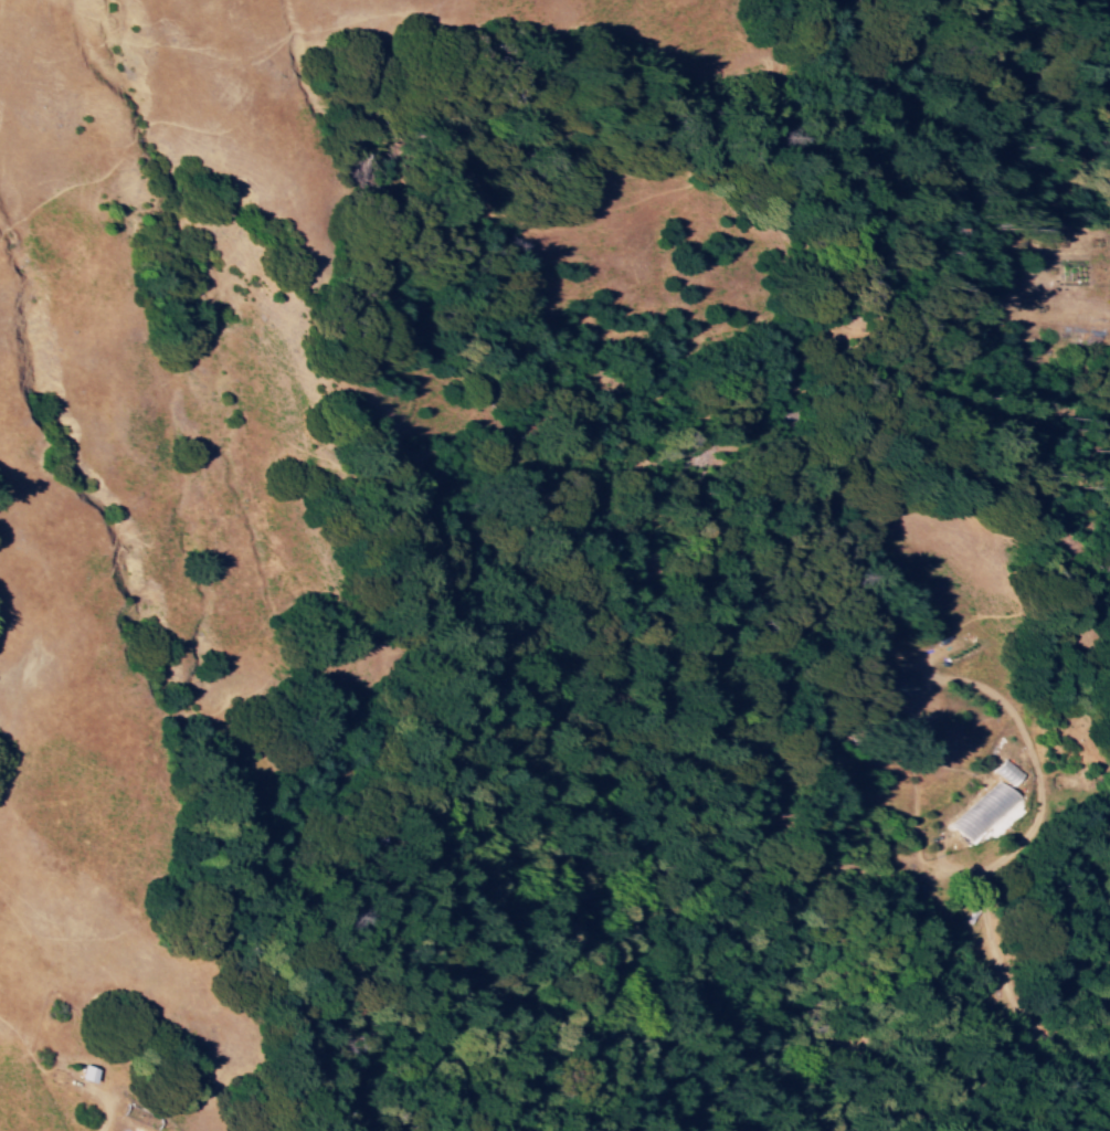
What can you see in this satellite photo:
road: (1021, 1004)
road: (827, 1033)
building: (87, 1072)

